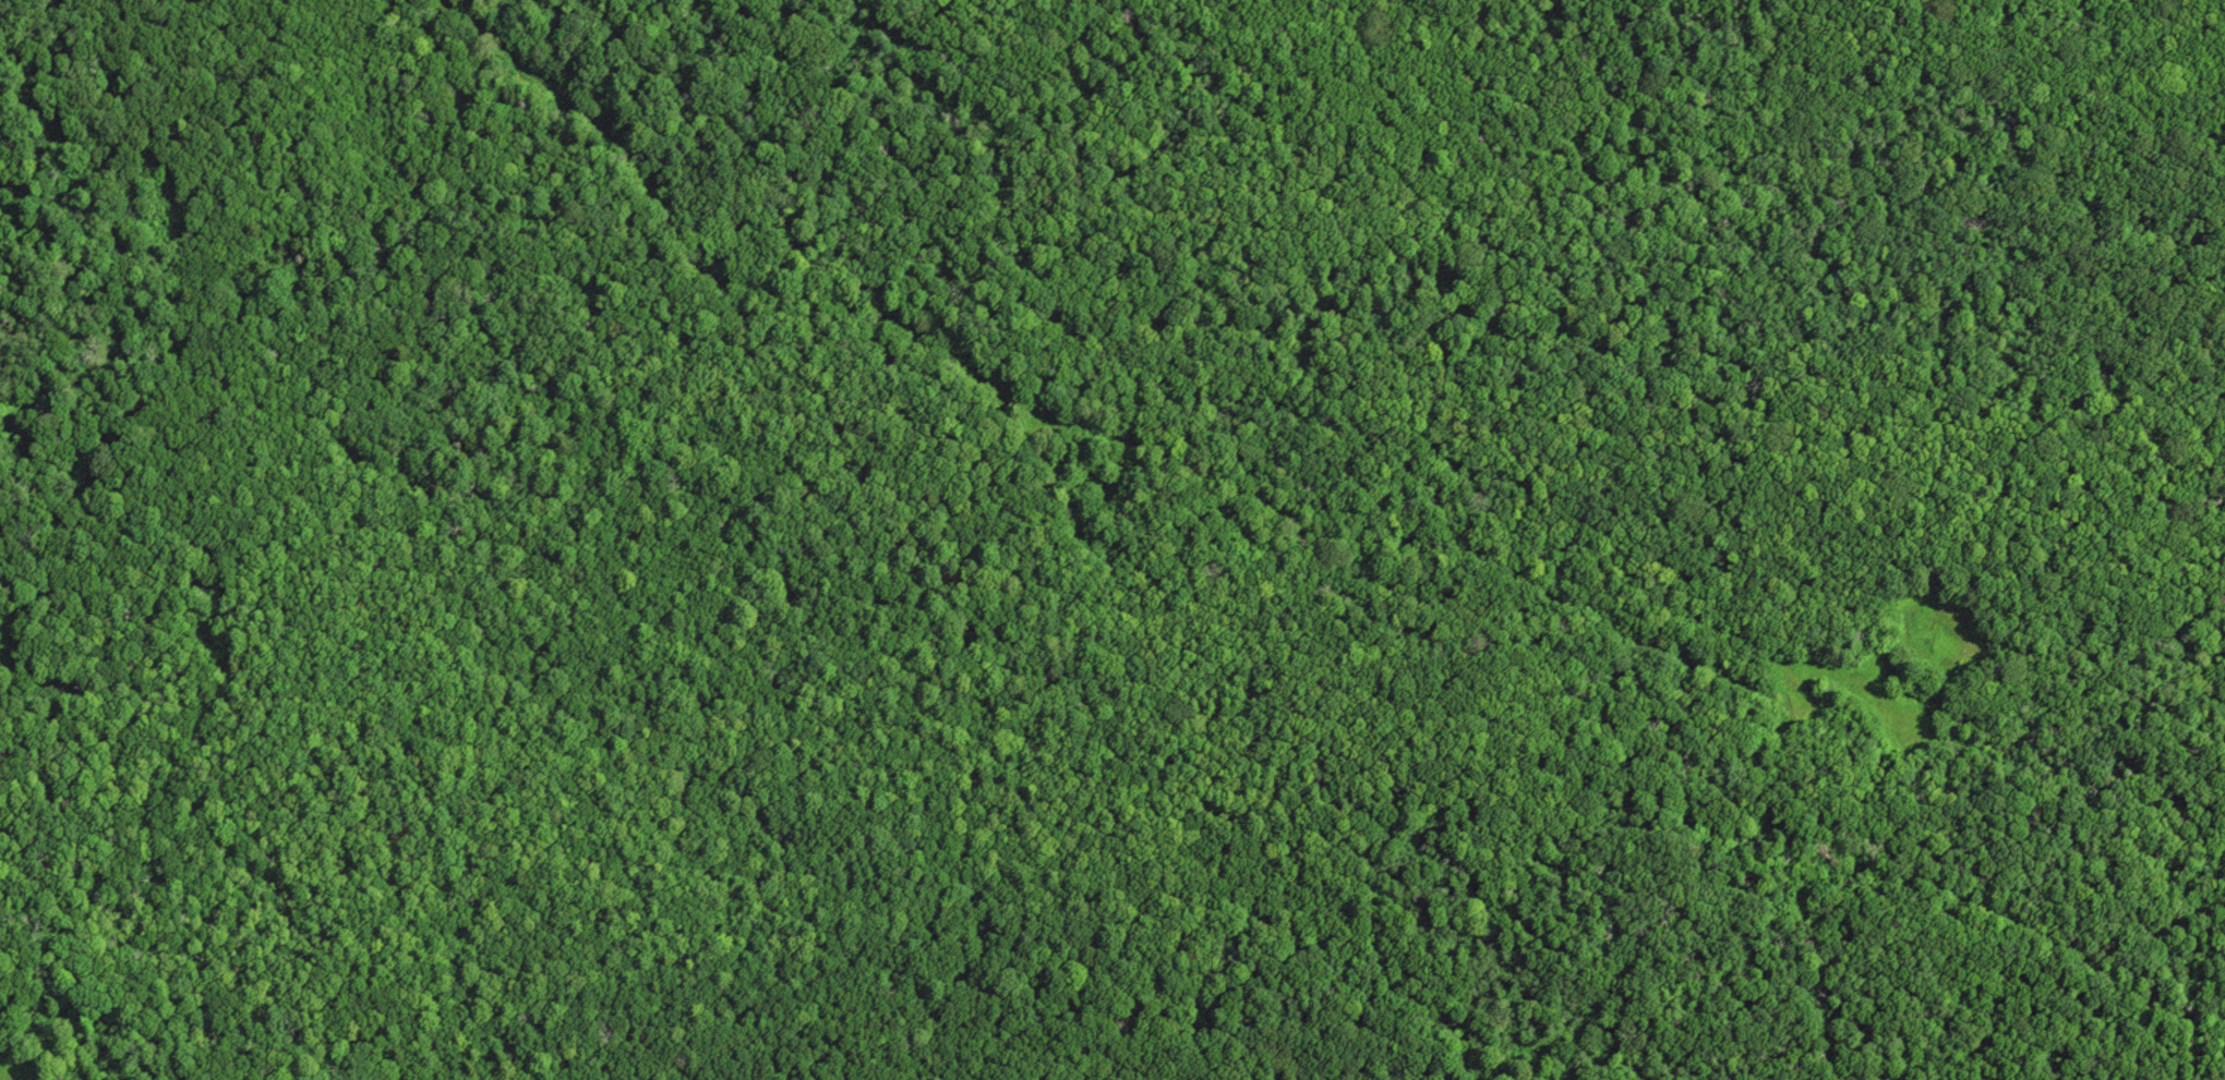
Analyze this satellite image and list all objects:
road: (294, 307)
road: (1418, 553)

